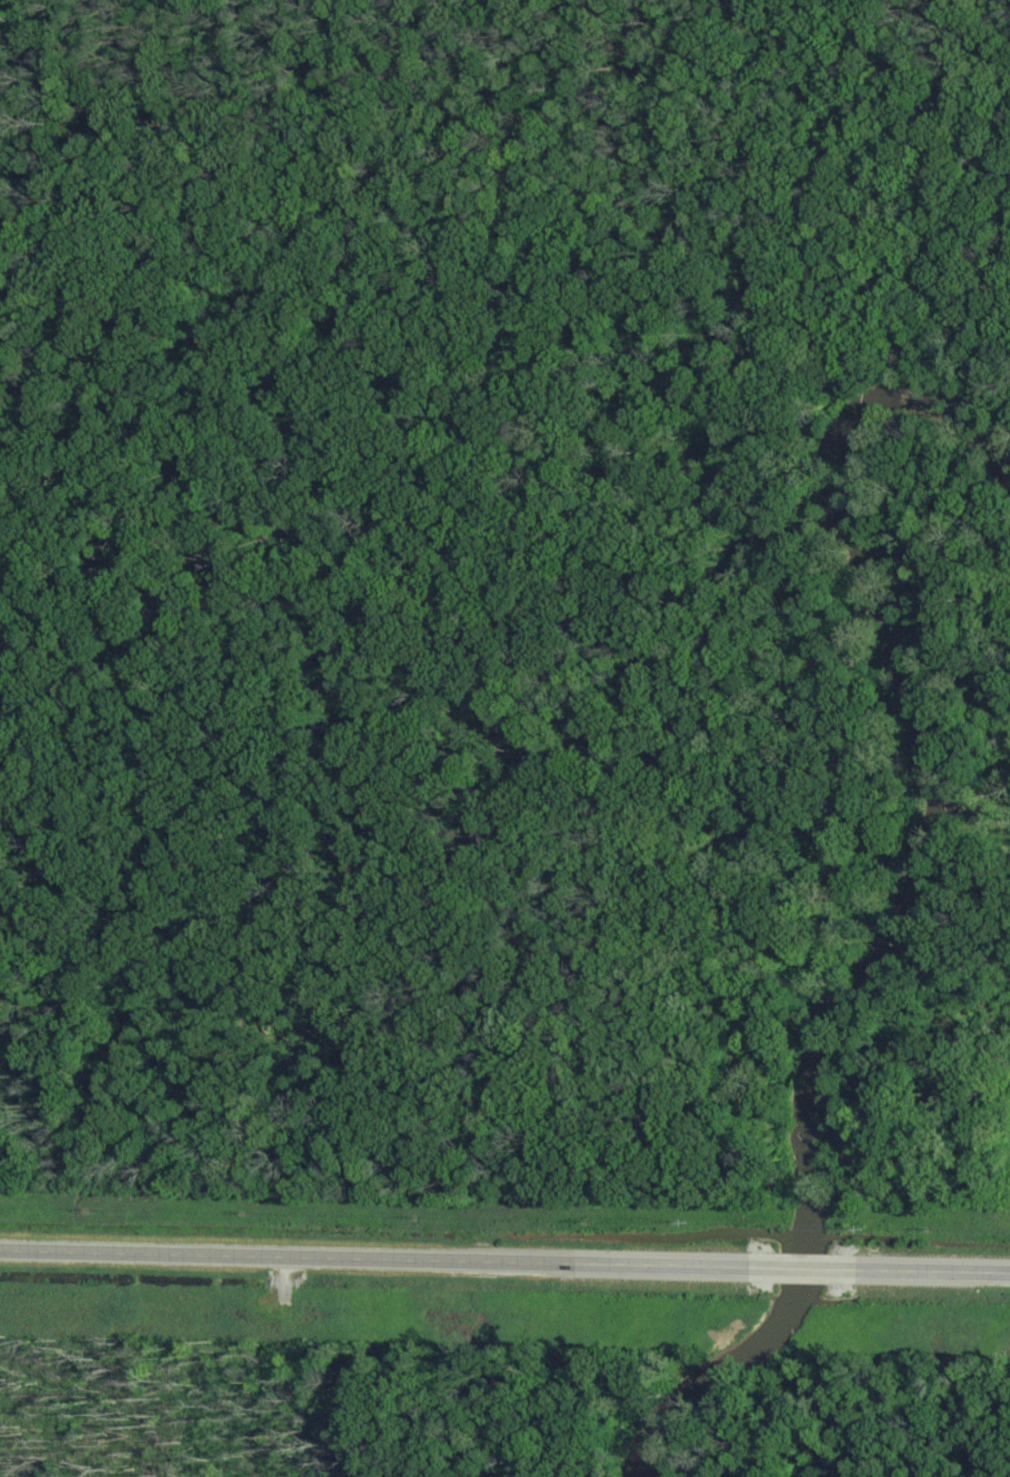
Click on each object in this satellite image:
road: (505, 1256)

